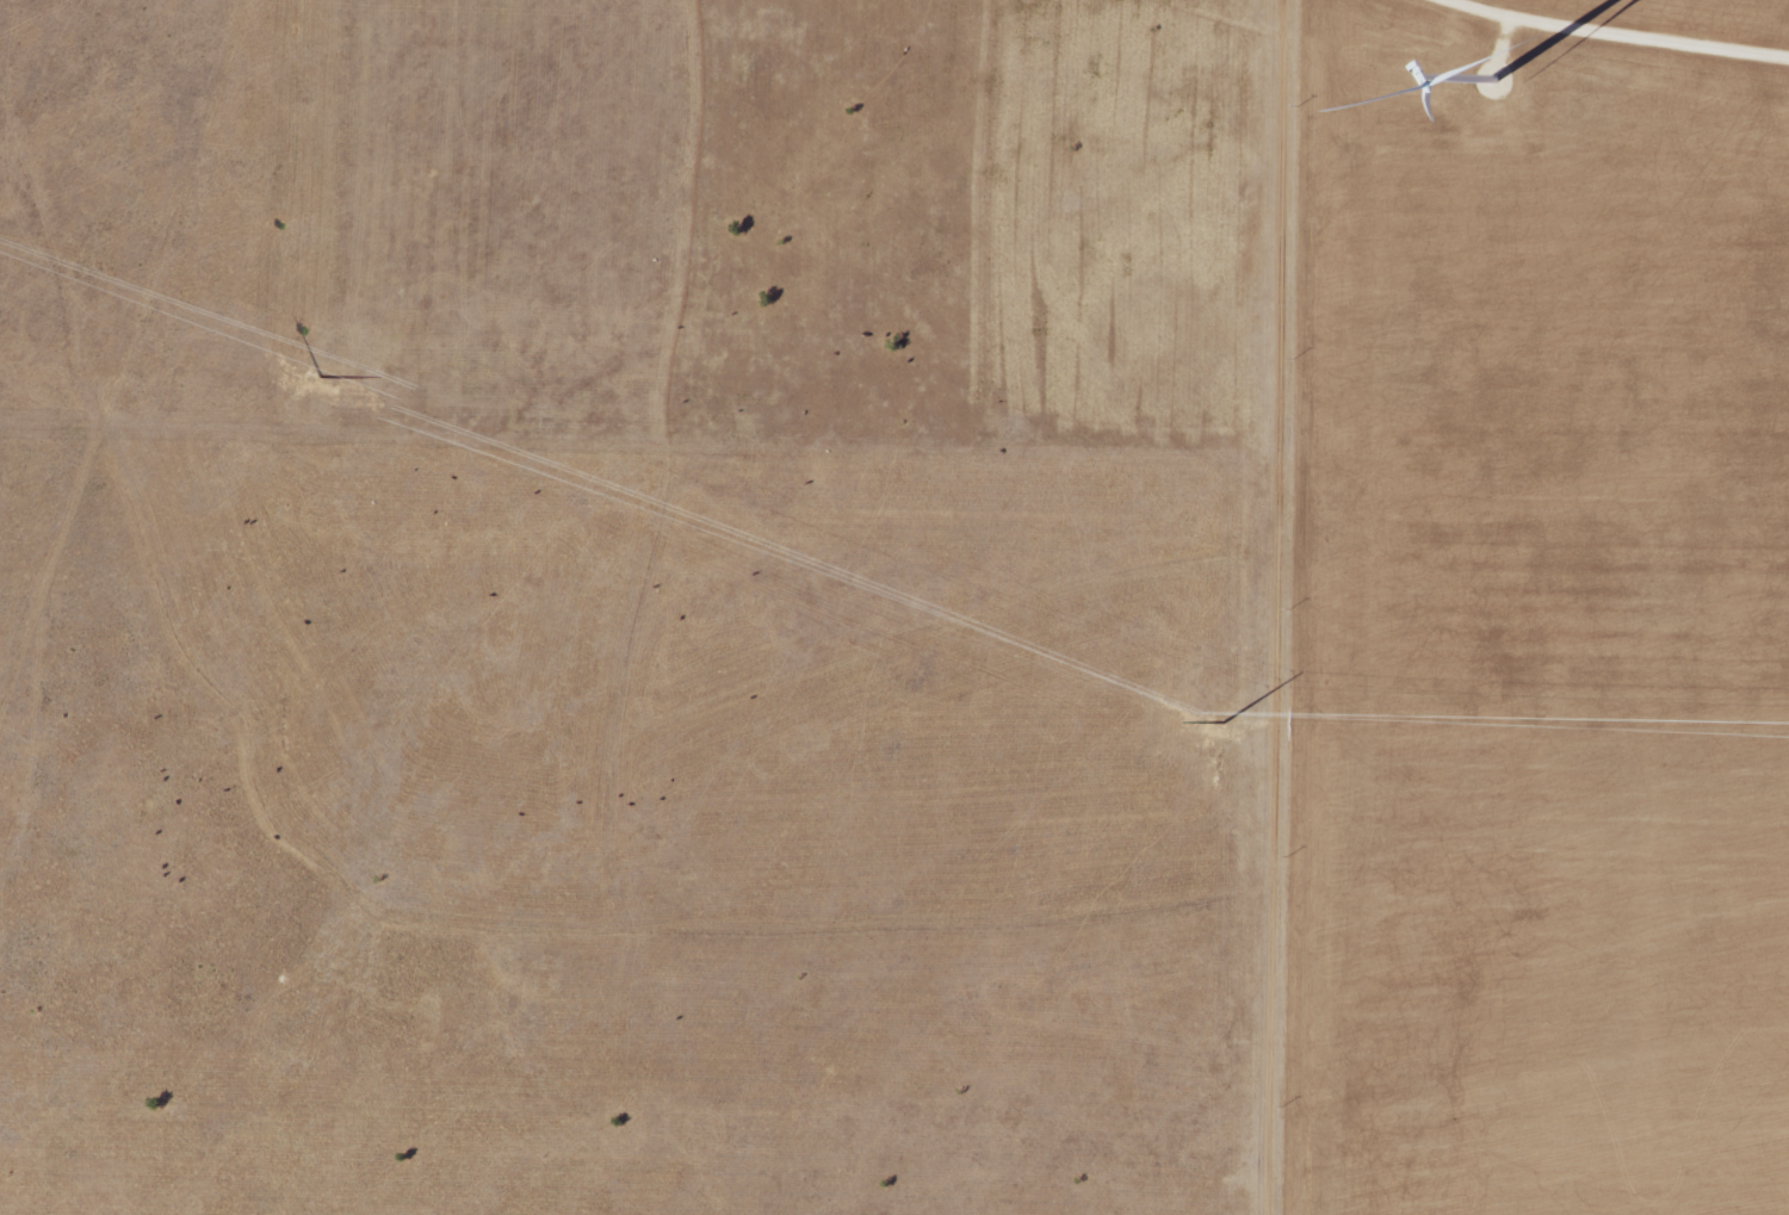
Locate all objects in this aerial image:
wind turbine: (1498, 81)
power tower: (321, 379)
power tower: (1222, 724)

